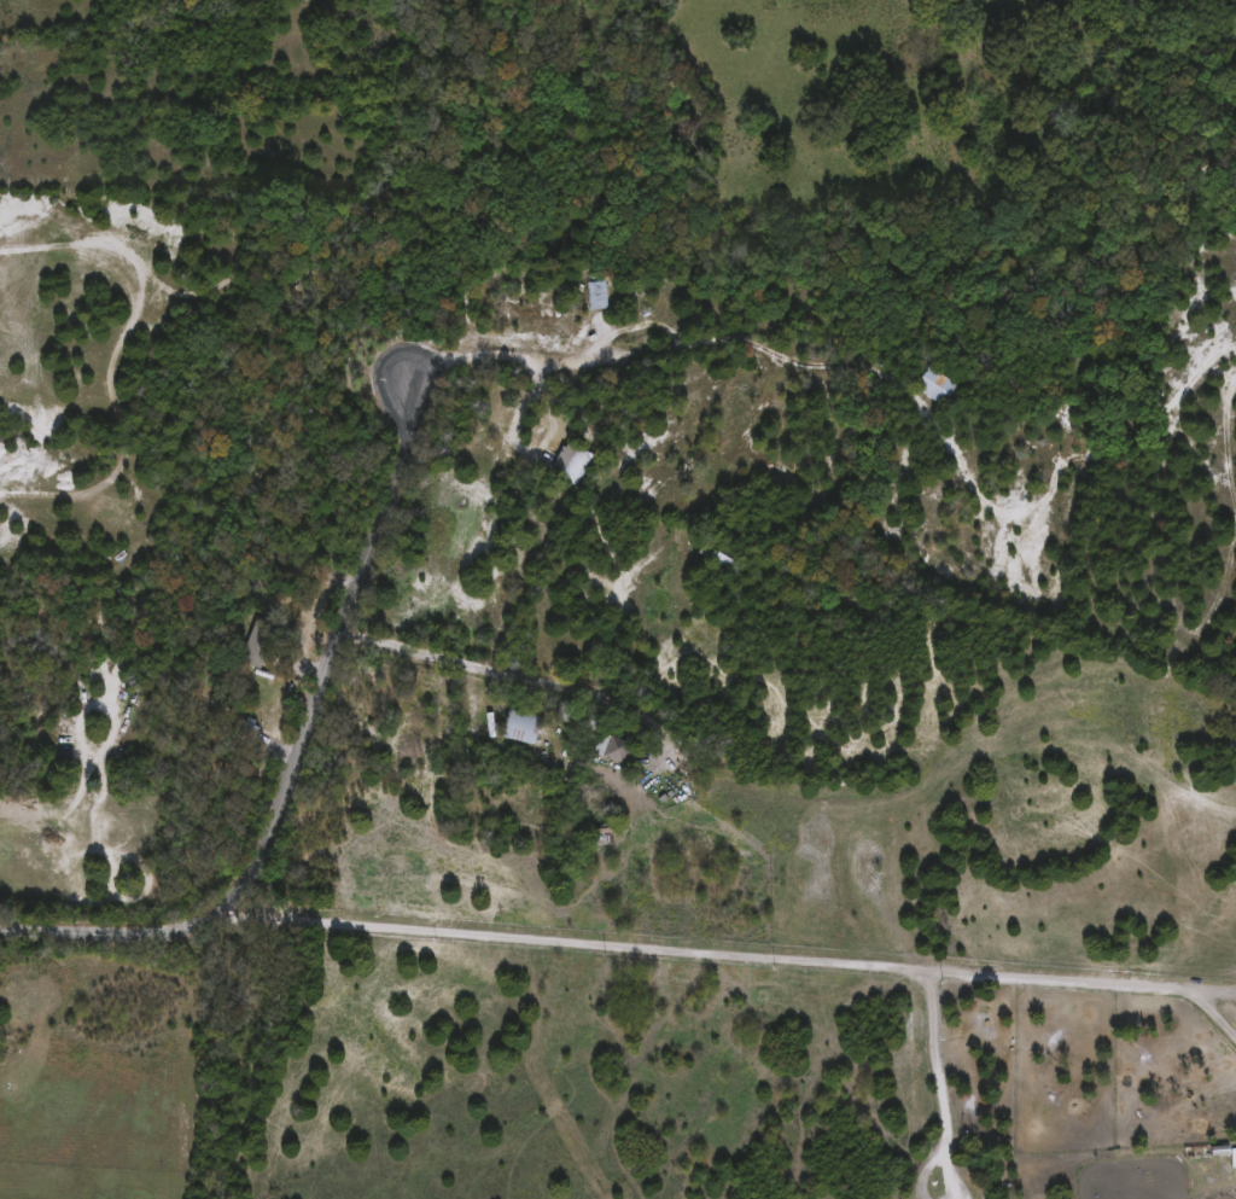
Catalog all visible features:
building: (596, 295)
road: (554, 359)
building: (935, 388)
road: (552, 408)
road: (1025, 446)
building: (570, 465)
building: (253, 656)
road: (520, 664)
building: (250, 728)
building: (519, 728)
building: (611, 751)
road: (689, 955)
road: (1207, 1012)
road: (937, 1081)

